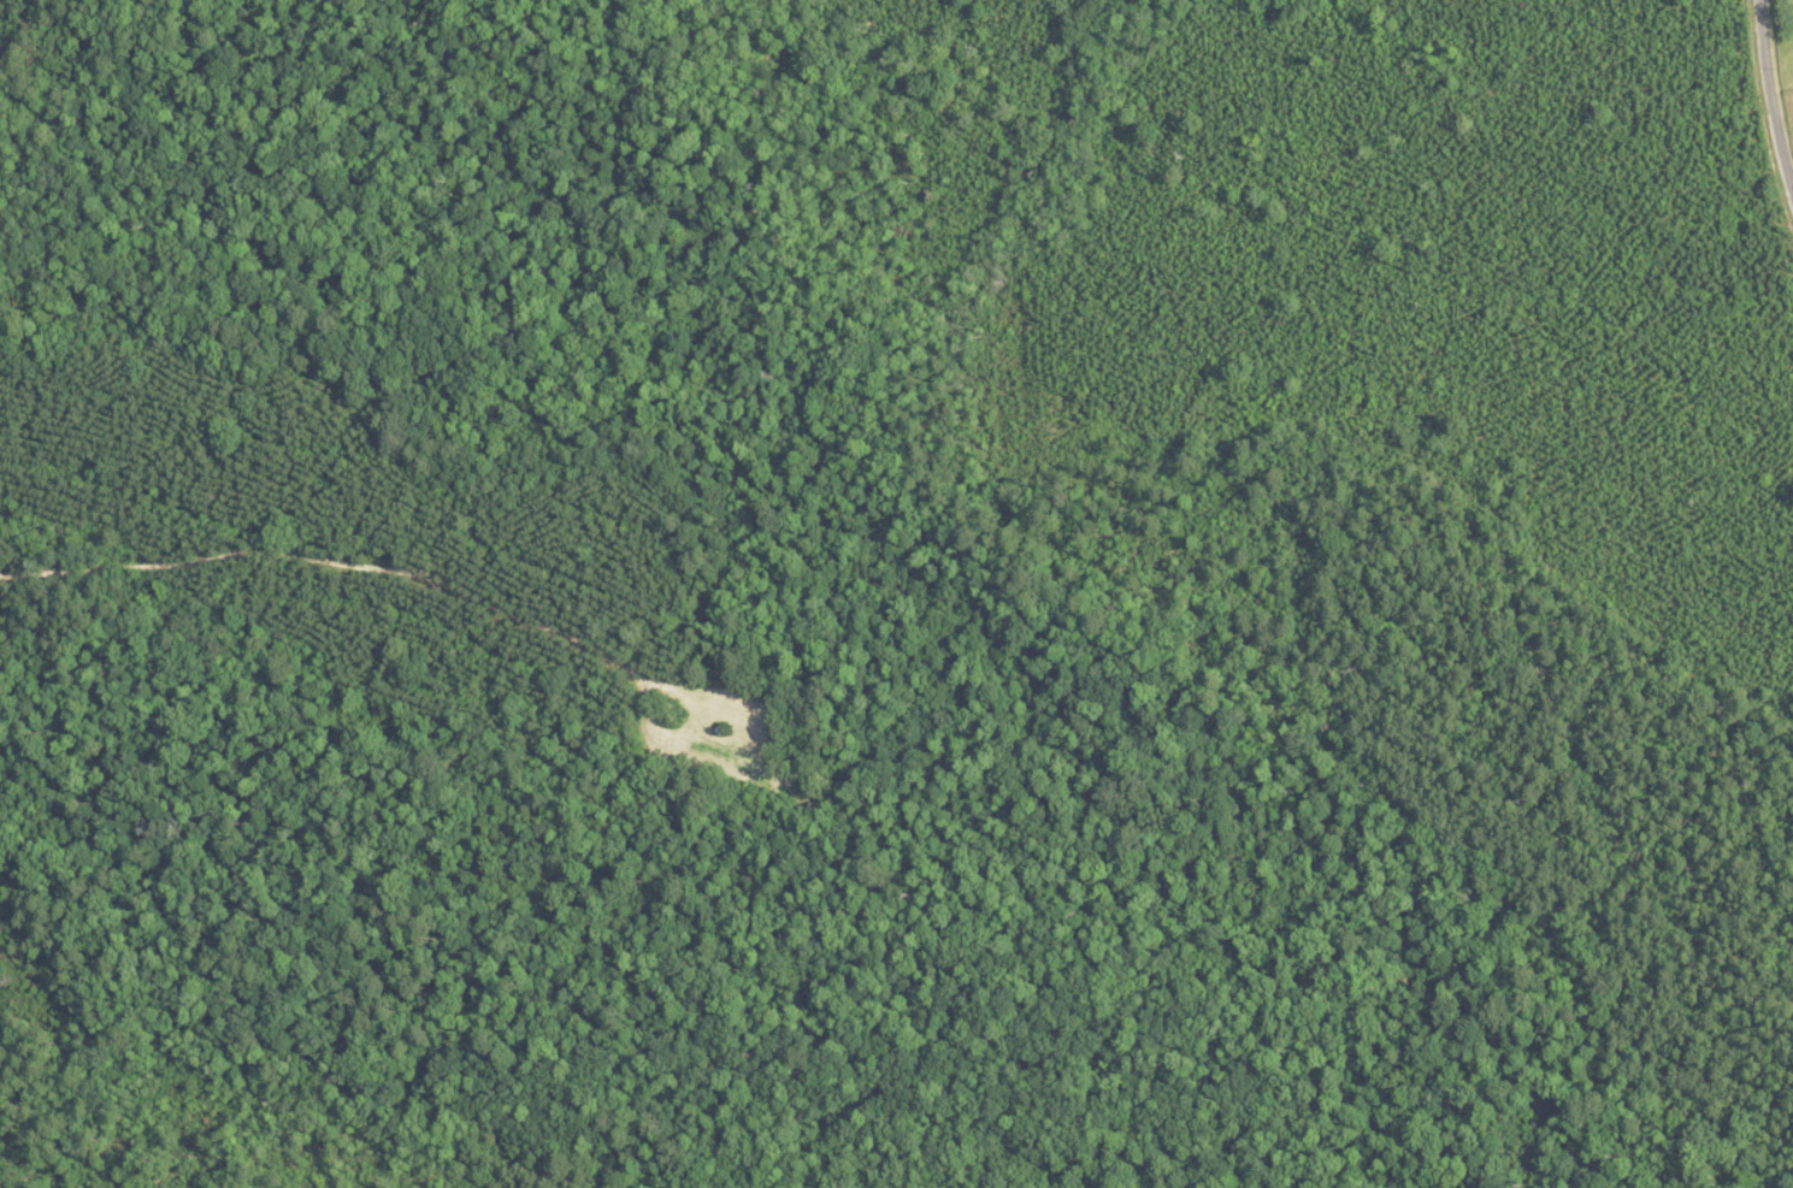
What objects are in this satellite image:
road: (1769, 99)

